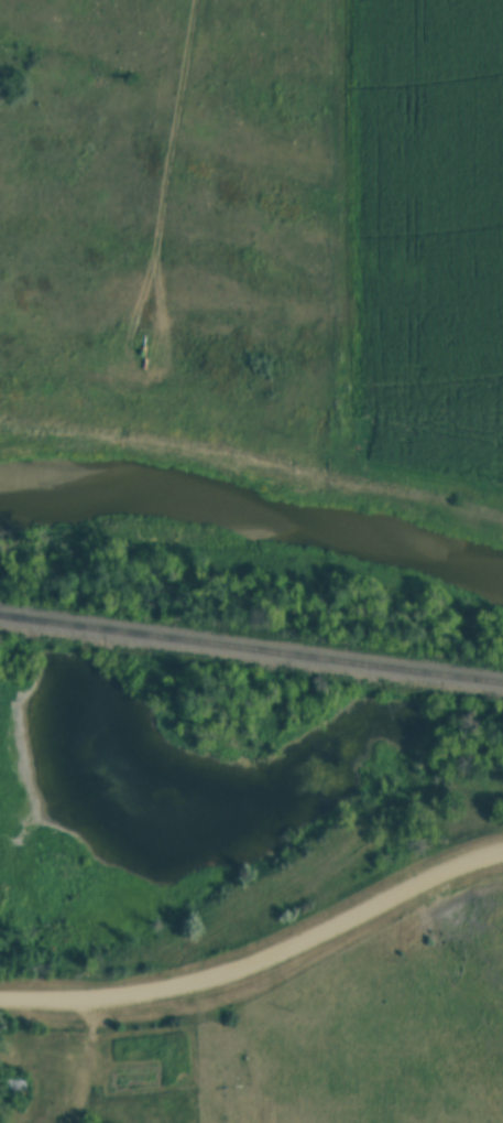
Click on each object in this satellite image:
railway: (251, 656)
road: (259, 962)

